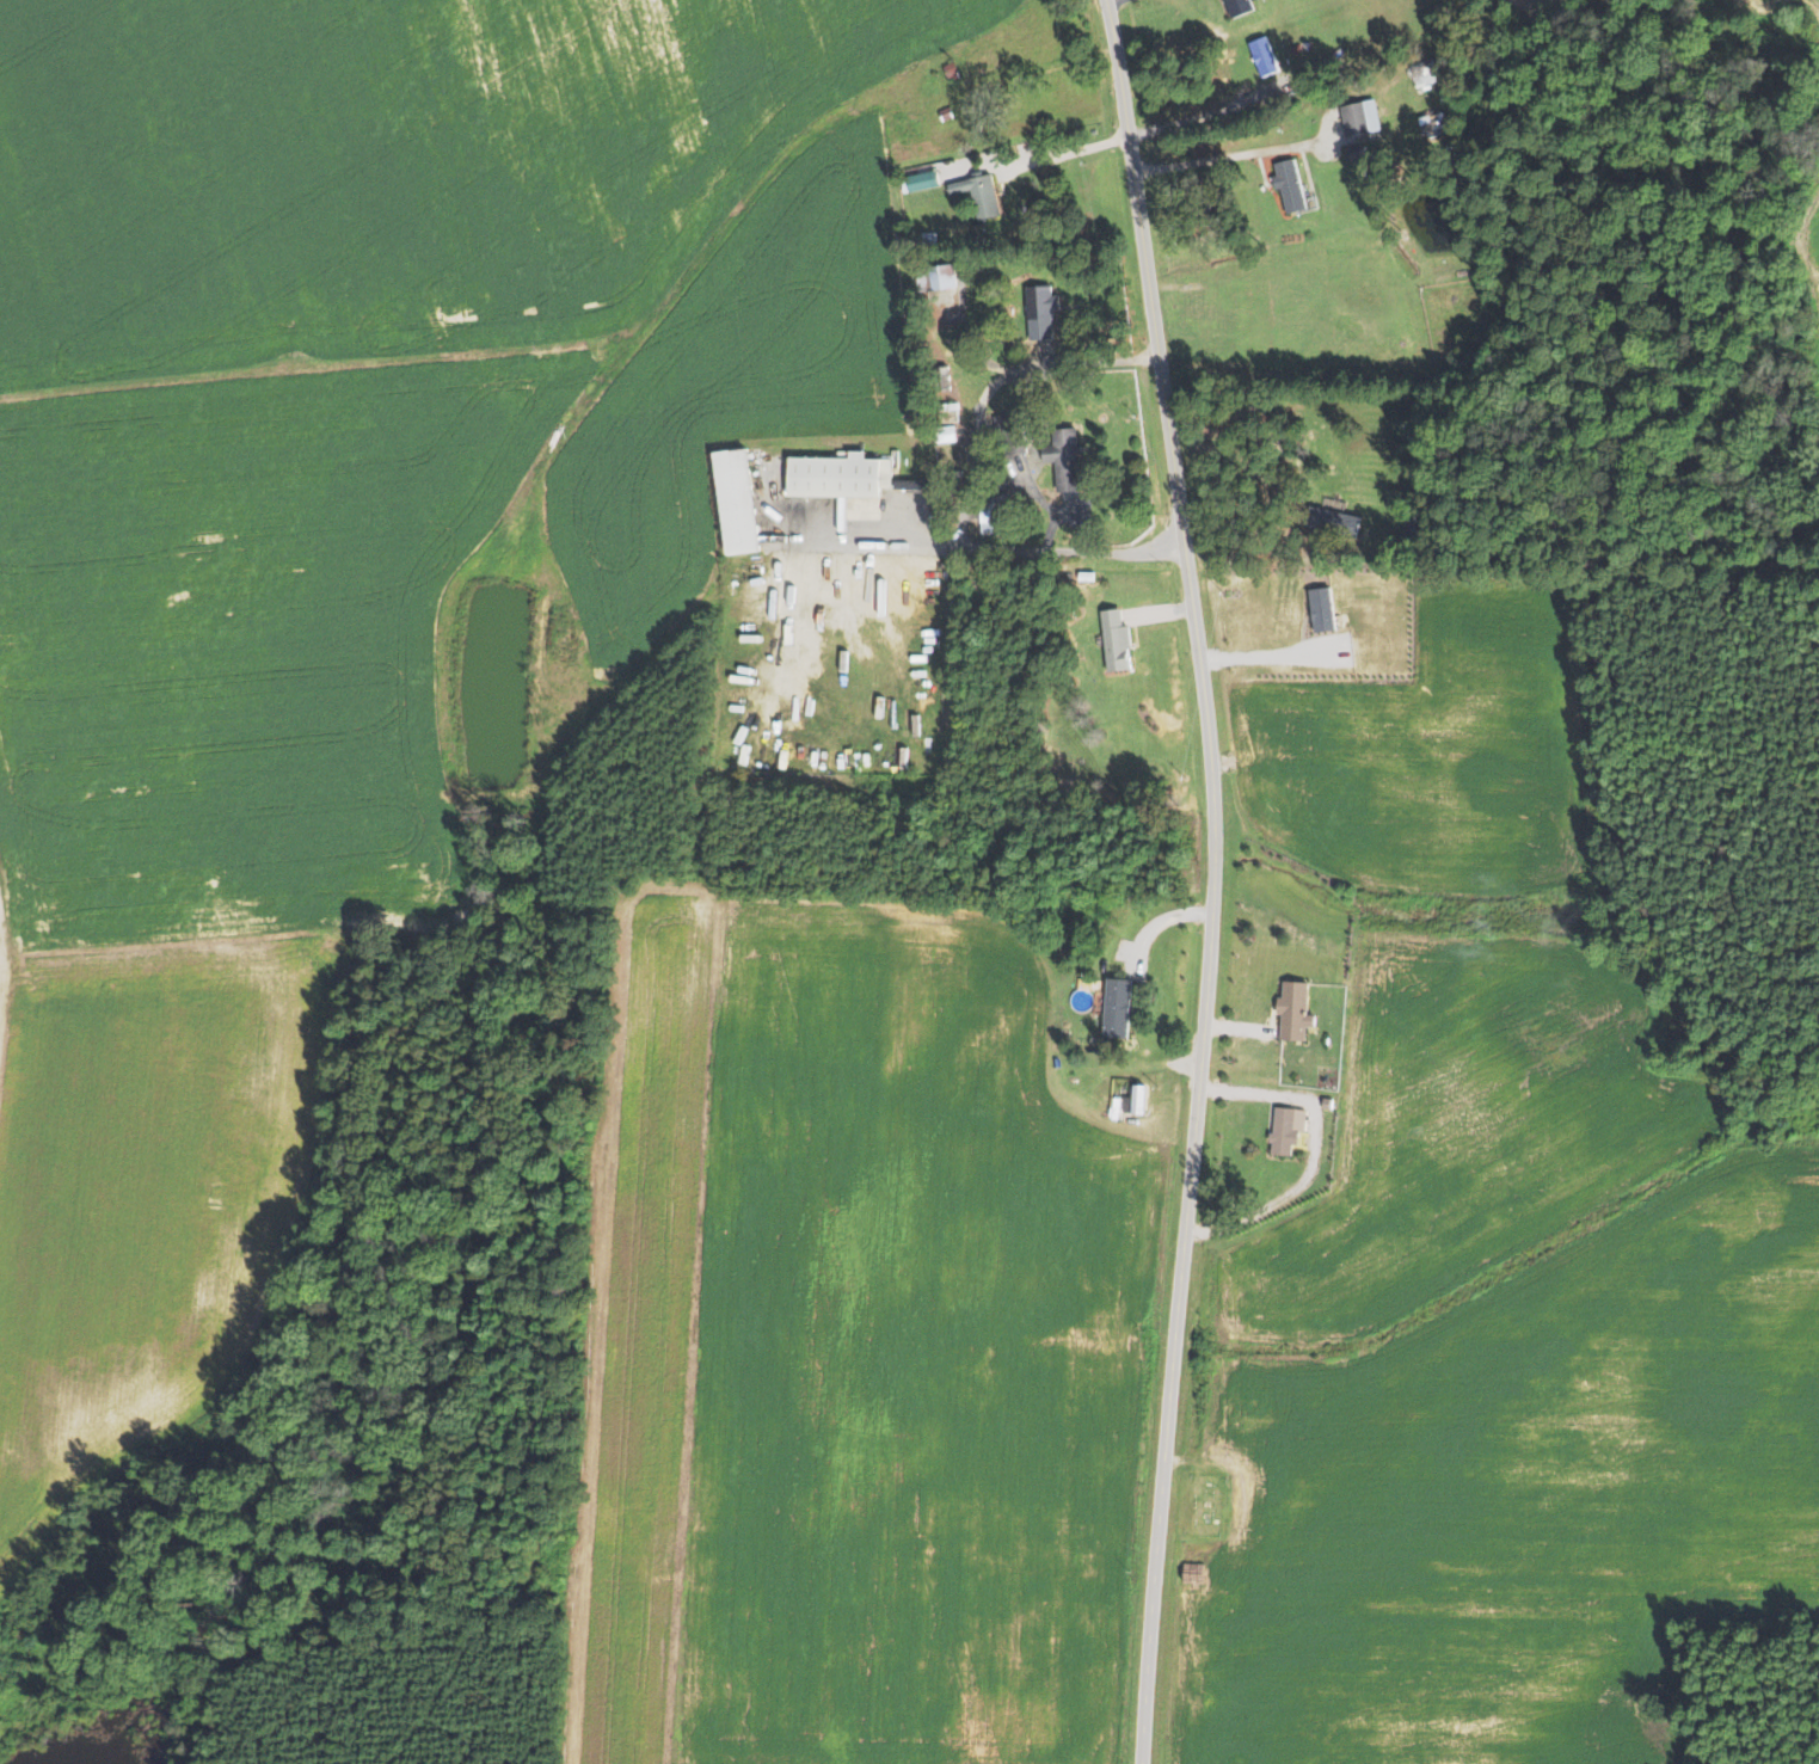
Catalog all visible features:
road: (1110, 0)
crop: (1531, 5)
building: (1245, 7)
crop: (1775, 7)
building: (1298, 48)
building: (1267, 56)
building: (1425, 70)
building: (953, 72)
building: (946, 113)
road: (1194, 115)
building: (1364, 118)
building: (1438, 122)
road: (1069, 152)
building: (1359, 152)
road: (1231, 156)
building: (934, 177)
building: (1293, 185)
building: (983, 195)
building: (932, 239)
crop: (1812, 269)
building: (941, 285)
building: (1044, 311)
road: (989, 364)
road: (979, 411)
road: (1253, 418)
building: (948, 434)
building: (1012, 434)
building: (1033, 451)
building: (1068, 459)
building: (843, 477)
building: (918, 484)
building: (743, 502)
parking lot: (856, 508)
building: (997, 511)
building: (1419, 521)
building: (1335, 522)
road: (915, 545)
road: (1065, 551)
crop: (342, 552)
building: (1089, 577)
road: (1504, 577)
road: (1162, 614)
building: (1120, 640)
crop: (1408, 730)
road: (1213, 879)
road: (1154, 922)
building: (1120, 1008)
building: (1298, 1010)
road: (1242, 1029)
building: (1139, 1101)
crop: (1464, 1127)
building: (1290, 1130)
road: (1313, 1149)
crop: (859, 1354)
crop: (1520, 1500)
park: (1204, 1504)

